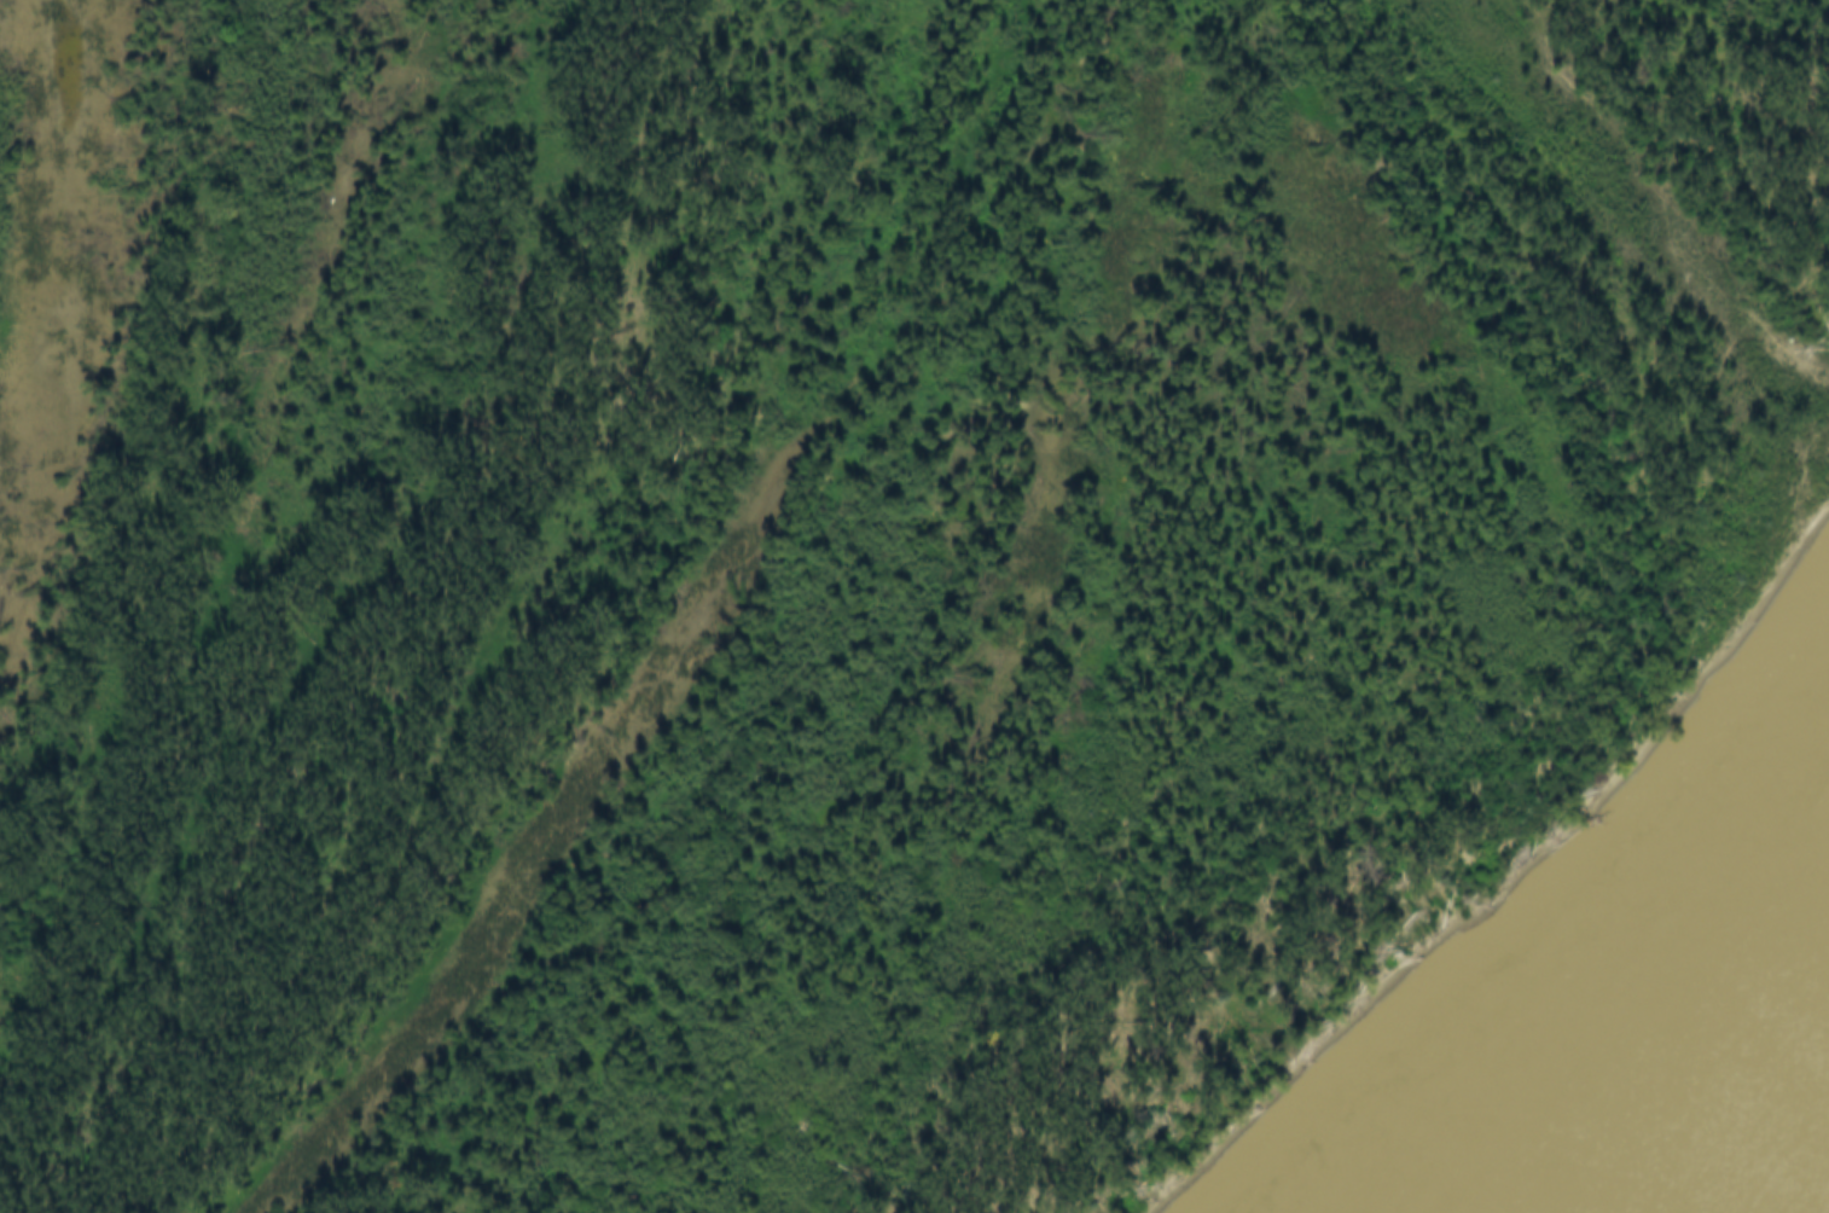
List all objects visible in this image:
river: (1686, 1080)

